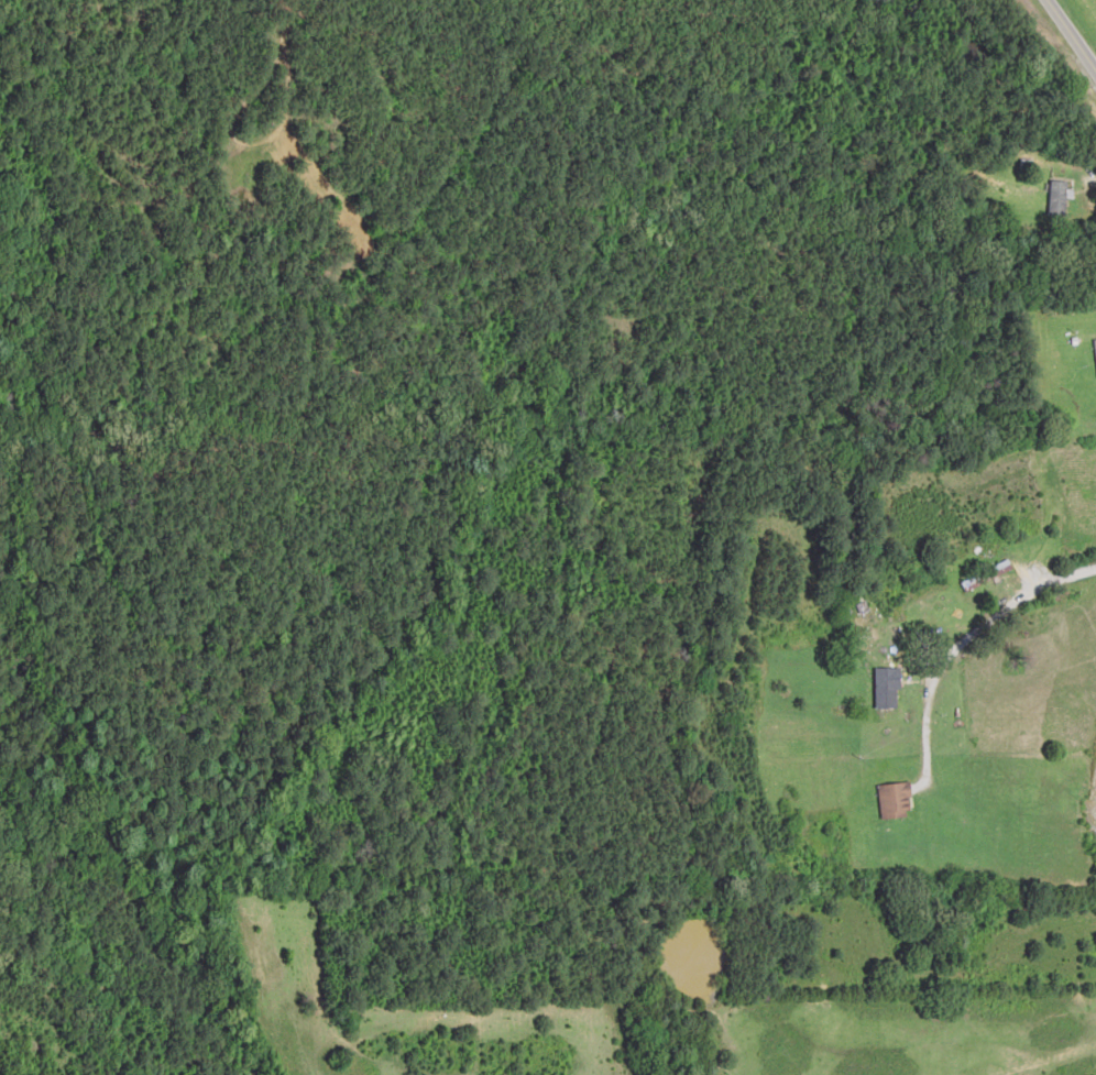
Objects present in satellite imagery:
road: (1072, 33)
building: (1057, 198)
building: (986, 574)
road: (1005, 637)
building: (887, 688)
building: (897, 800)

